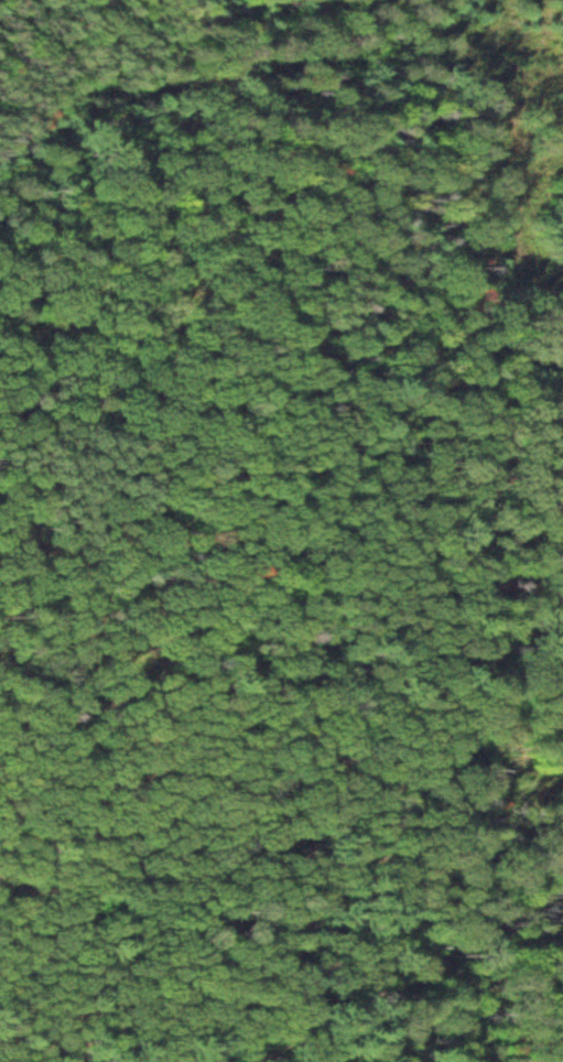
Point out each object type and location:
road: (185, 835)

